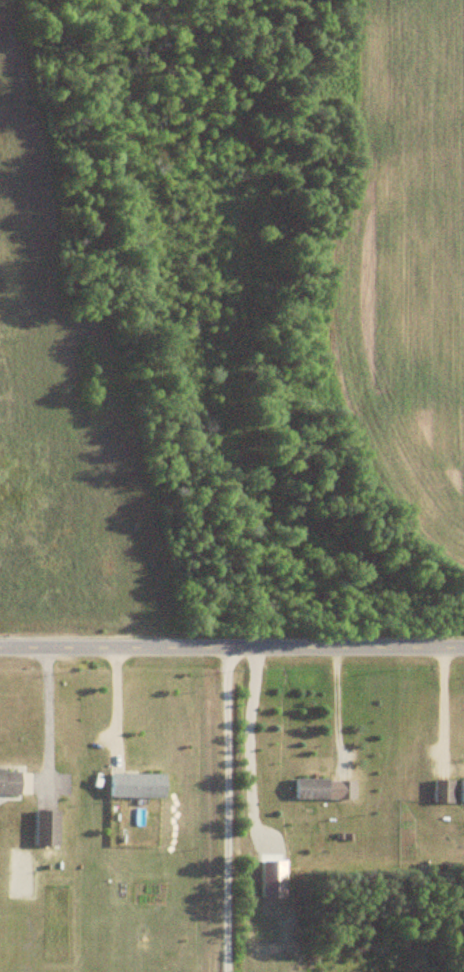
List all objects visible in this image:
road: (231, 645)
road: (116, 700)
road: (441, 702)
road: (333, 709)
road: (44, 716)
building: (9, 782)
building: (135, 786)
building: (311, 789)
building: (344, 790)
building: (442, 792)
building: (462, 792)
building: (45, 828)

